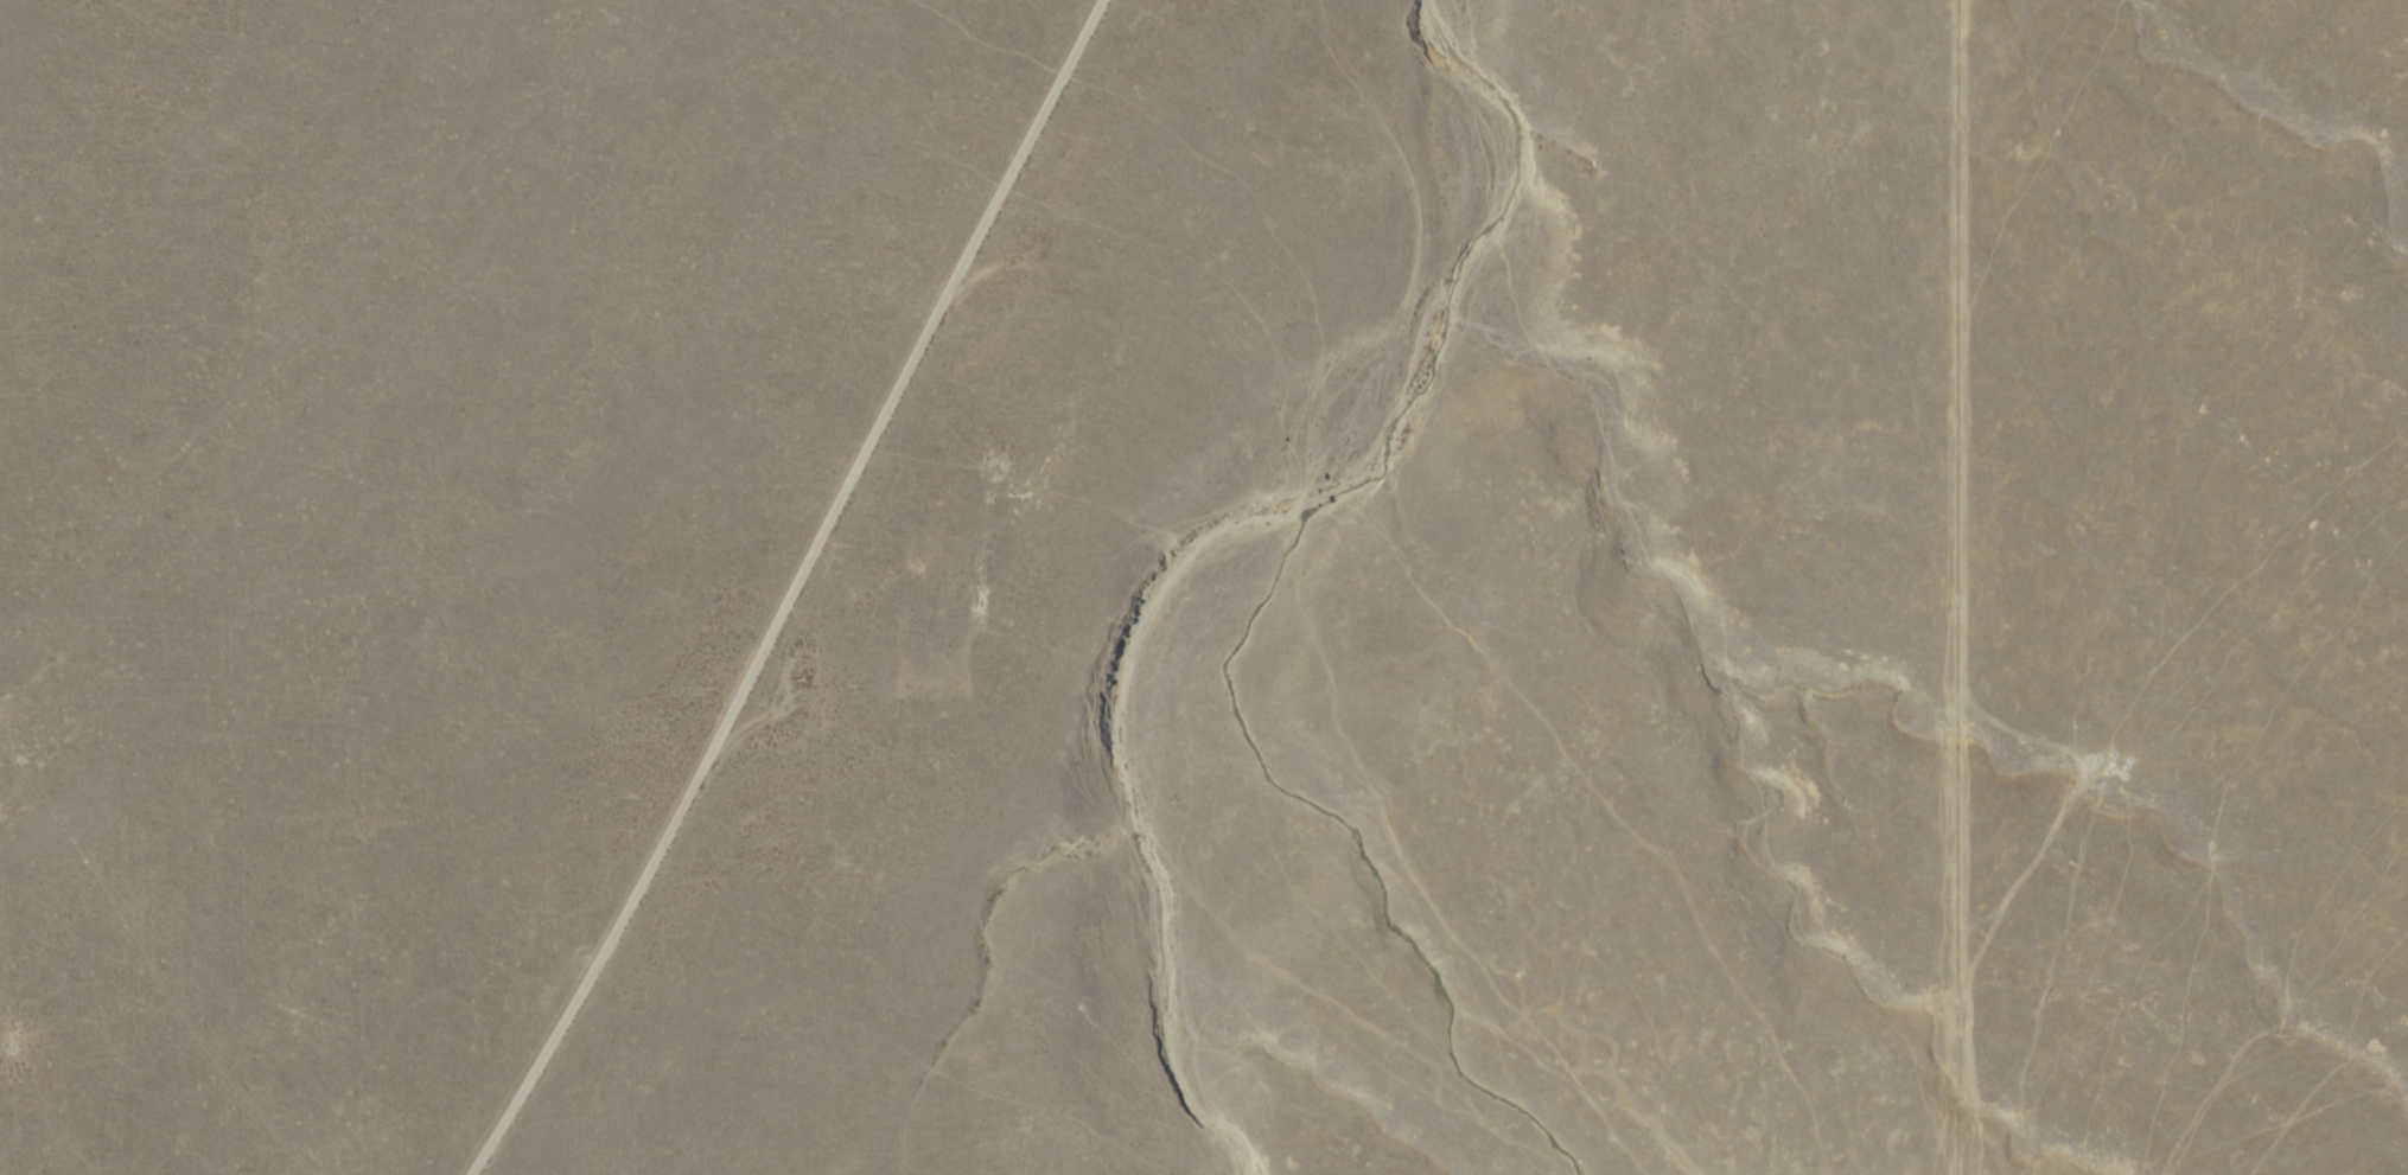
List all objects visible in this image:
road: (802, 592)

